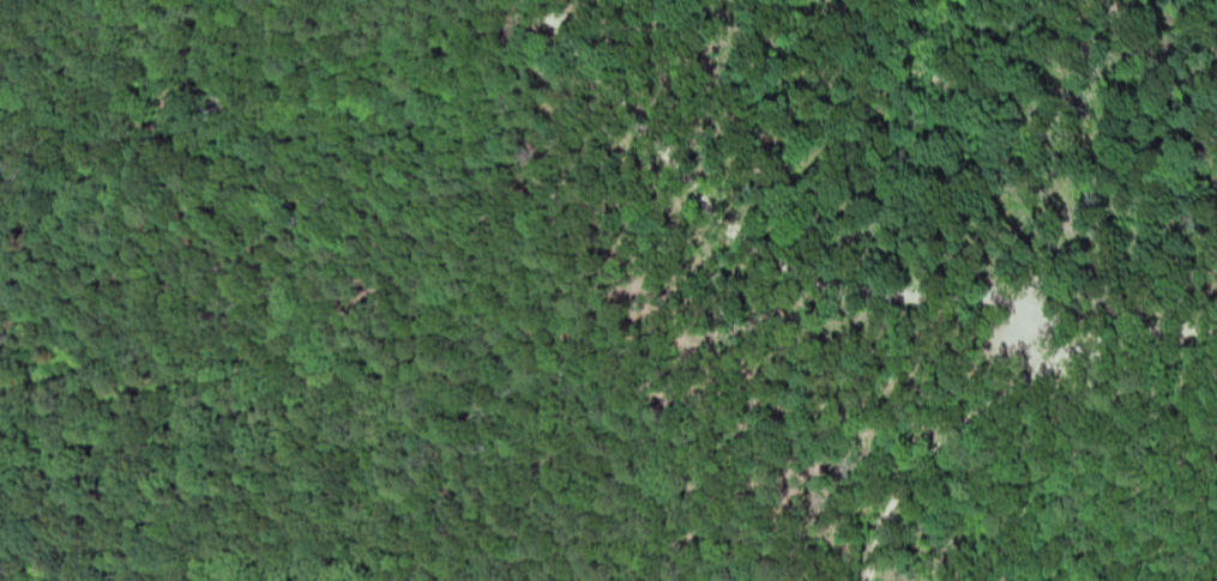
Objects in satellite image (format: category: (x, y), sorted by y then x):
road: (1011, 424)

